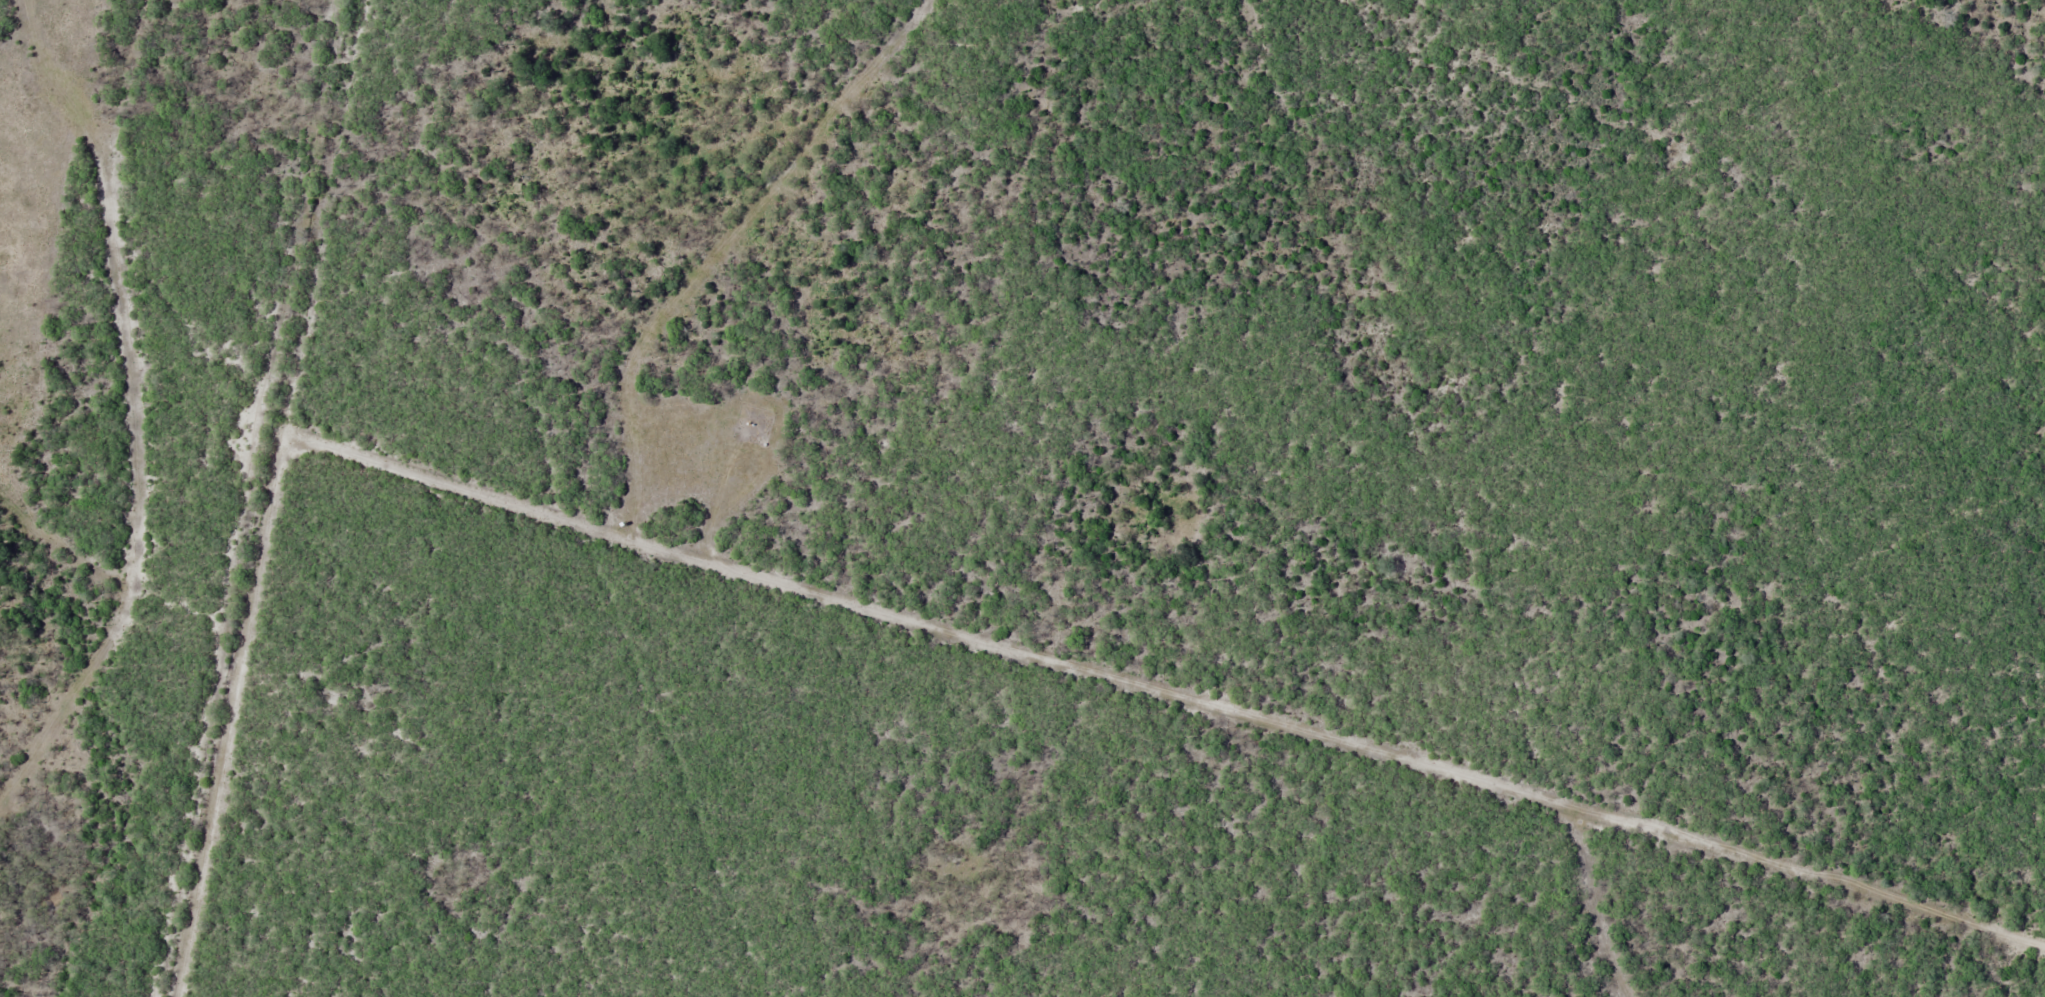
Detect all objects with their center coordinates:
road: (720, 250)
road: (273, 498)
road: (1162, 699)

